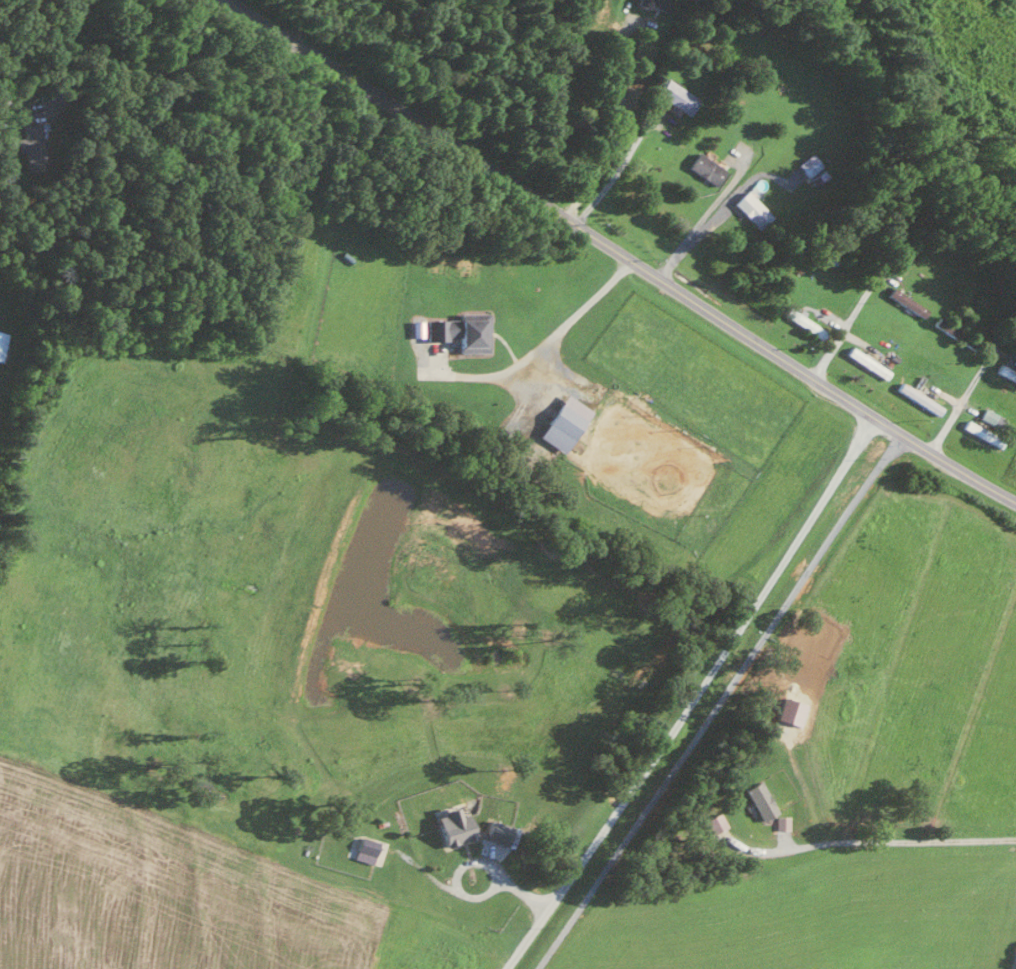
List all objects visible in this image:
building: (652, 3)
road: (50, 51)
building: (18, 91)
building: (676, 96)
building: (729, 111)
road: (618, 128)
building: (30, 146)
building: (808, 164)
building: (705, 168)
road: (614, 174)
building: (751, 209)
road: (697, 220)
road: (695, 235)
road: (617, 255)
building: (905, 302)
road: (846, 324)
building: (460, 332)
building: (954, 333)
building: (1, 339)
road: (541, 345)
building: (866, 362)
building: (991, 419)
building: (562, 423)
building: (981, 433)
road: (694, 696)
road: (718, 701)
building: (761, 799)
building: (783, 821)
building: (715, 822)
building: (451, 825)
building: (495, 830)
road: (869, 840)
building: (364, 848)
road: (471, 861)
road: (1015, 963)

